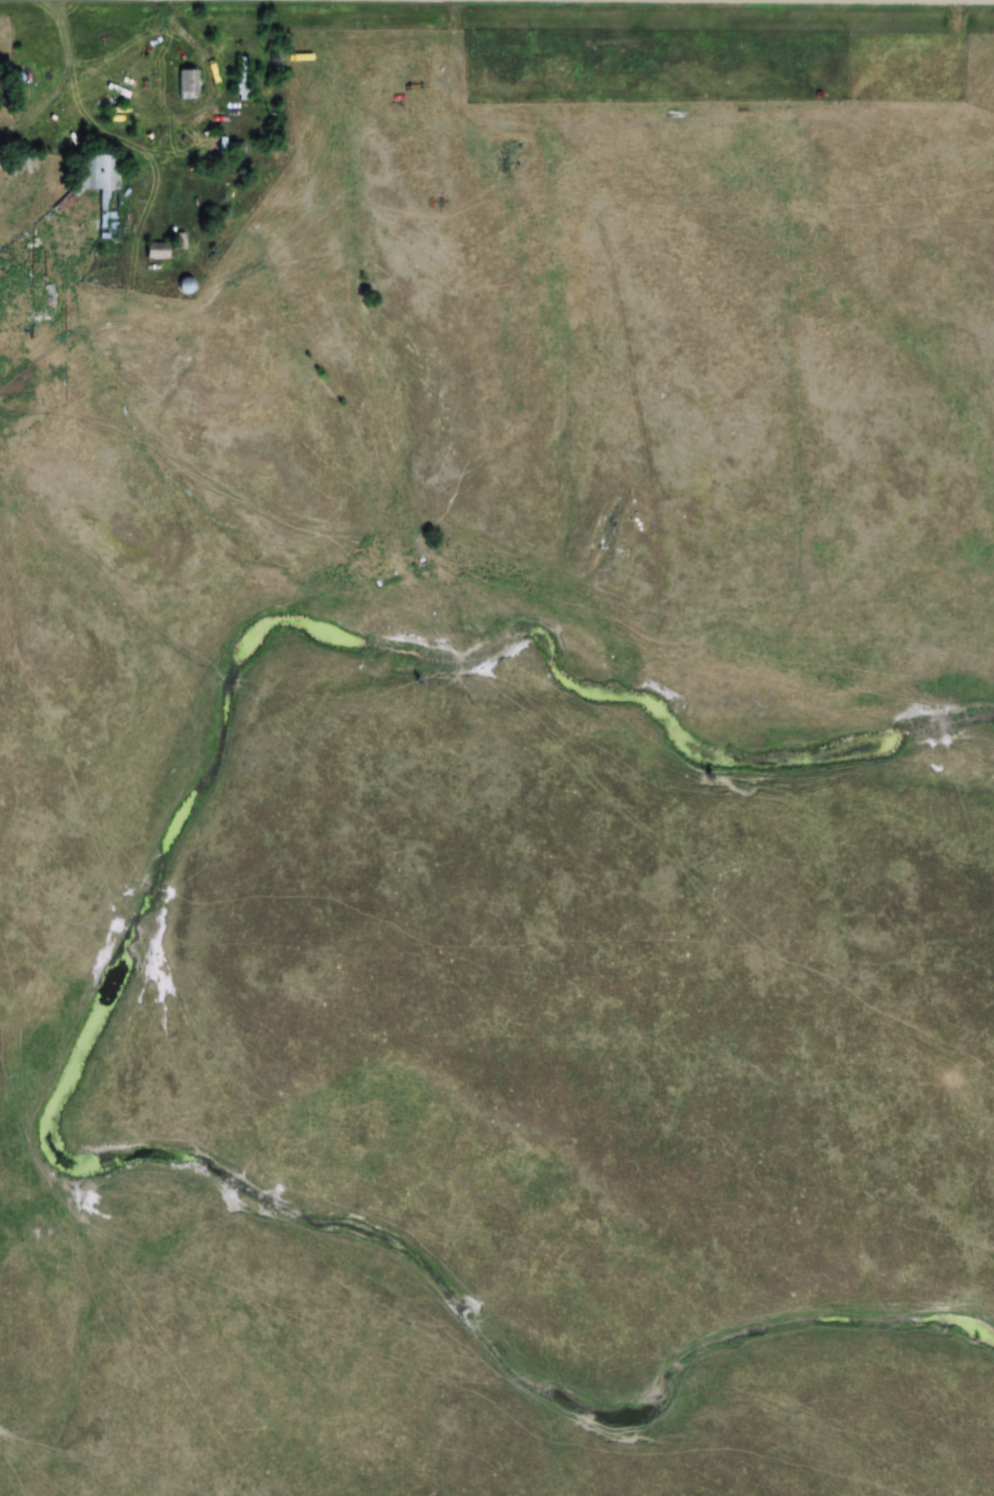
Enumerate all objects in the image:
building: (241, 77)
building: (187, 83)
building: (103, 188)
building: (155, 250)
building: (185, 284)

